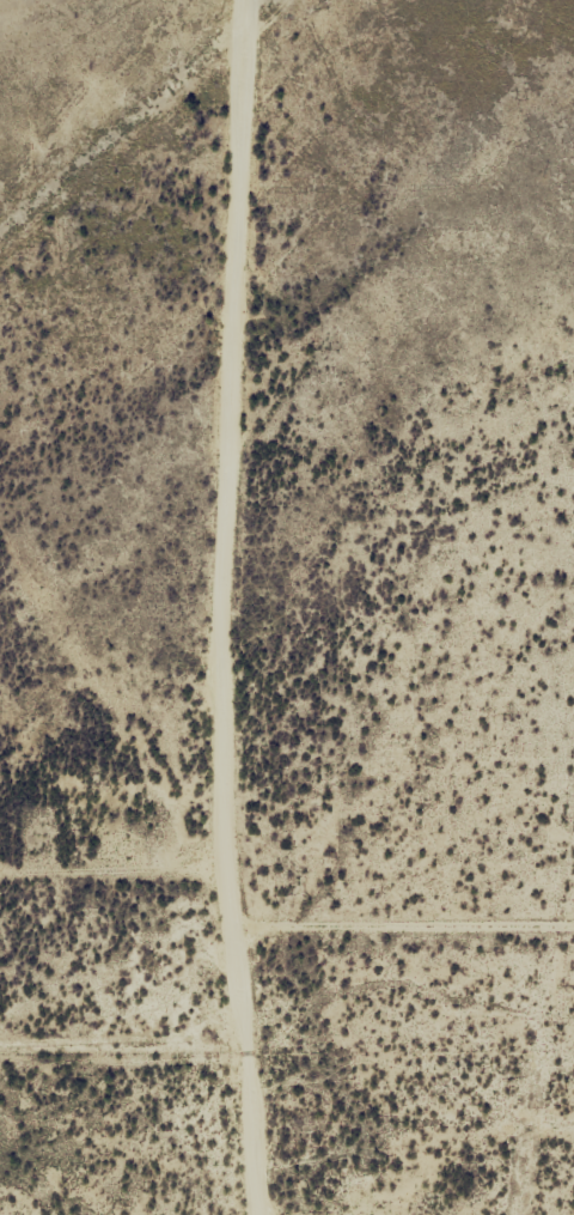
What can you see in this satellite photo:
road: (199, 607)
road: (100, 885)

